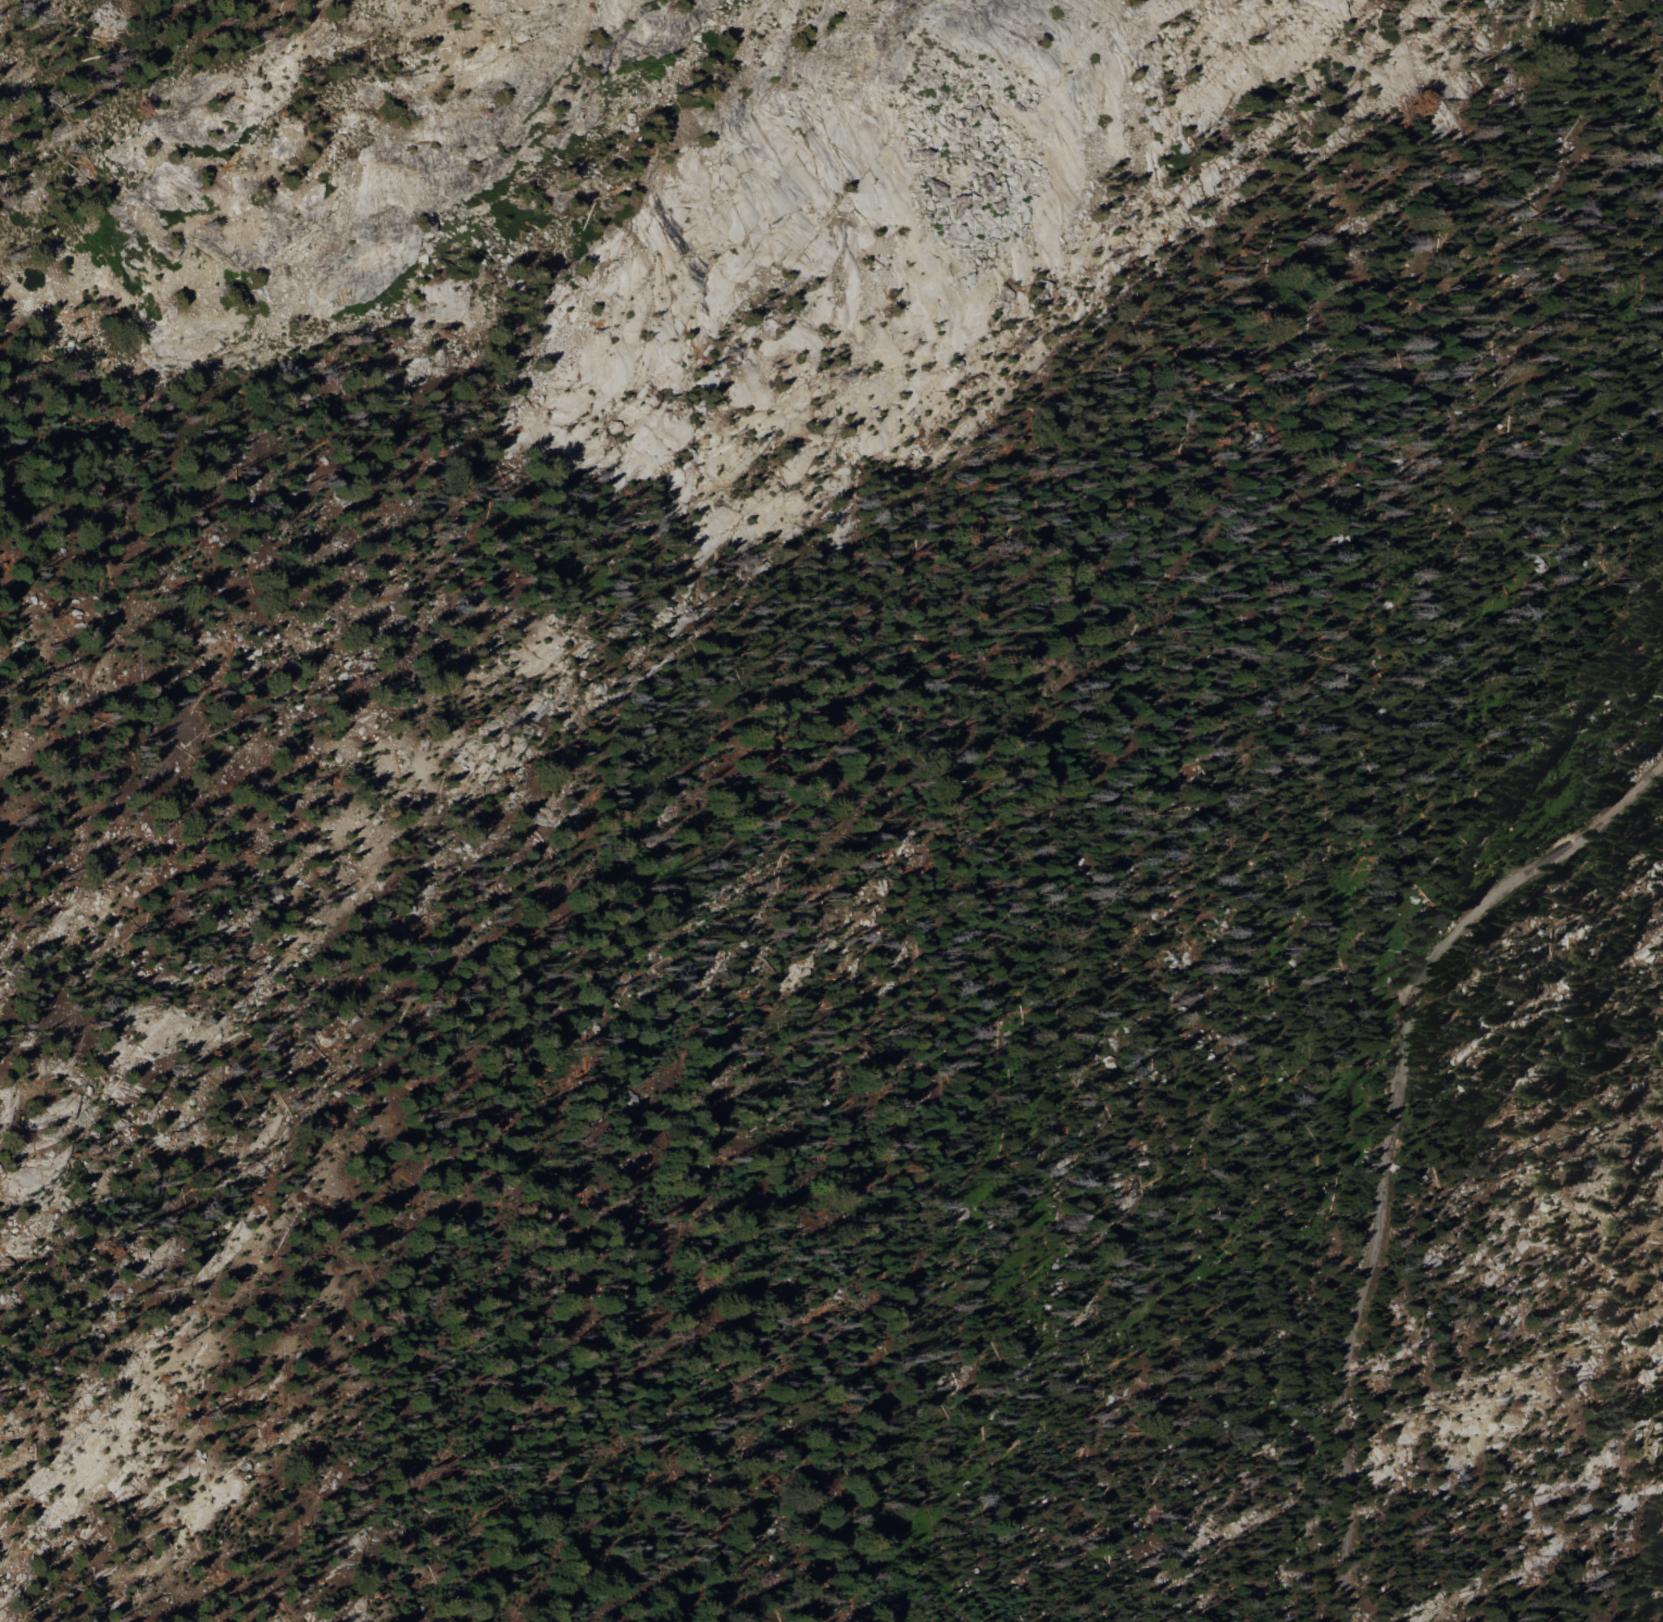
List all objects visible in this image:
road: (1390, 1137)
road: (1603, 1333)

